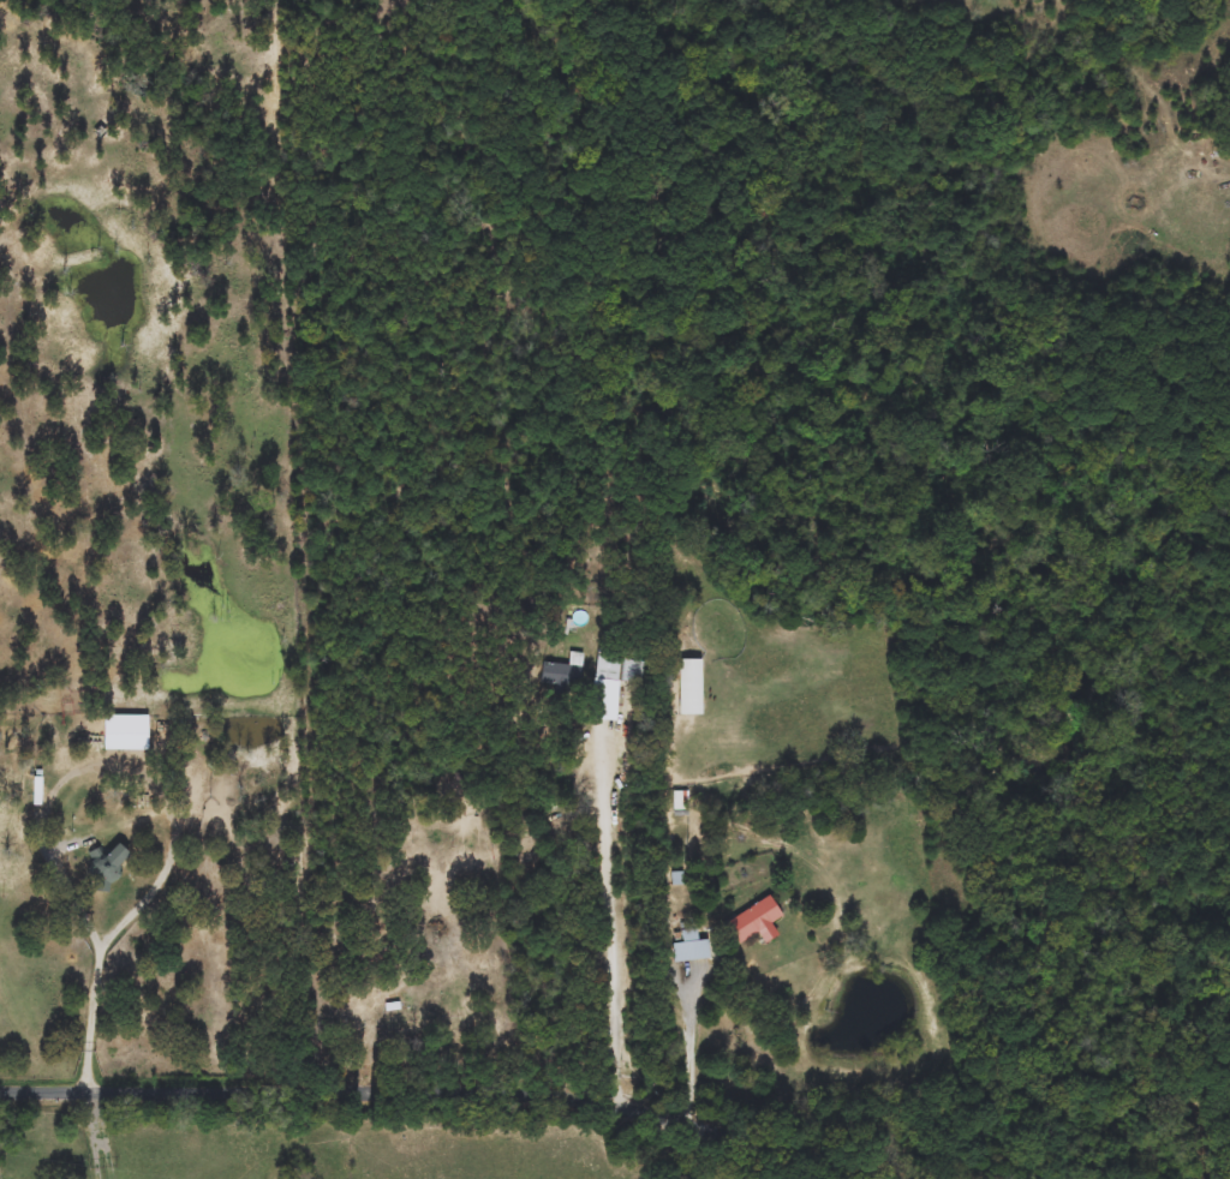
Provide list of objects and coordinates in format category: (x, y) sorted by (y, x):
building: (610, 666)
building: (562, 672)
building: (688, 688)
building: (118, 856)
road: (610, 911)
building: (752, 920)
road: (119, 932)
building: (689, 947)
road: (376, 977)
building: (431, 1016)
road: (691, 1052)
road: (465, 1085)
road: (101, 1133)
road: (48, 1135)

